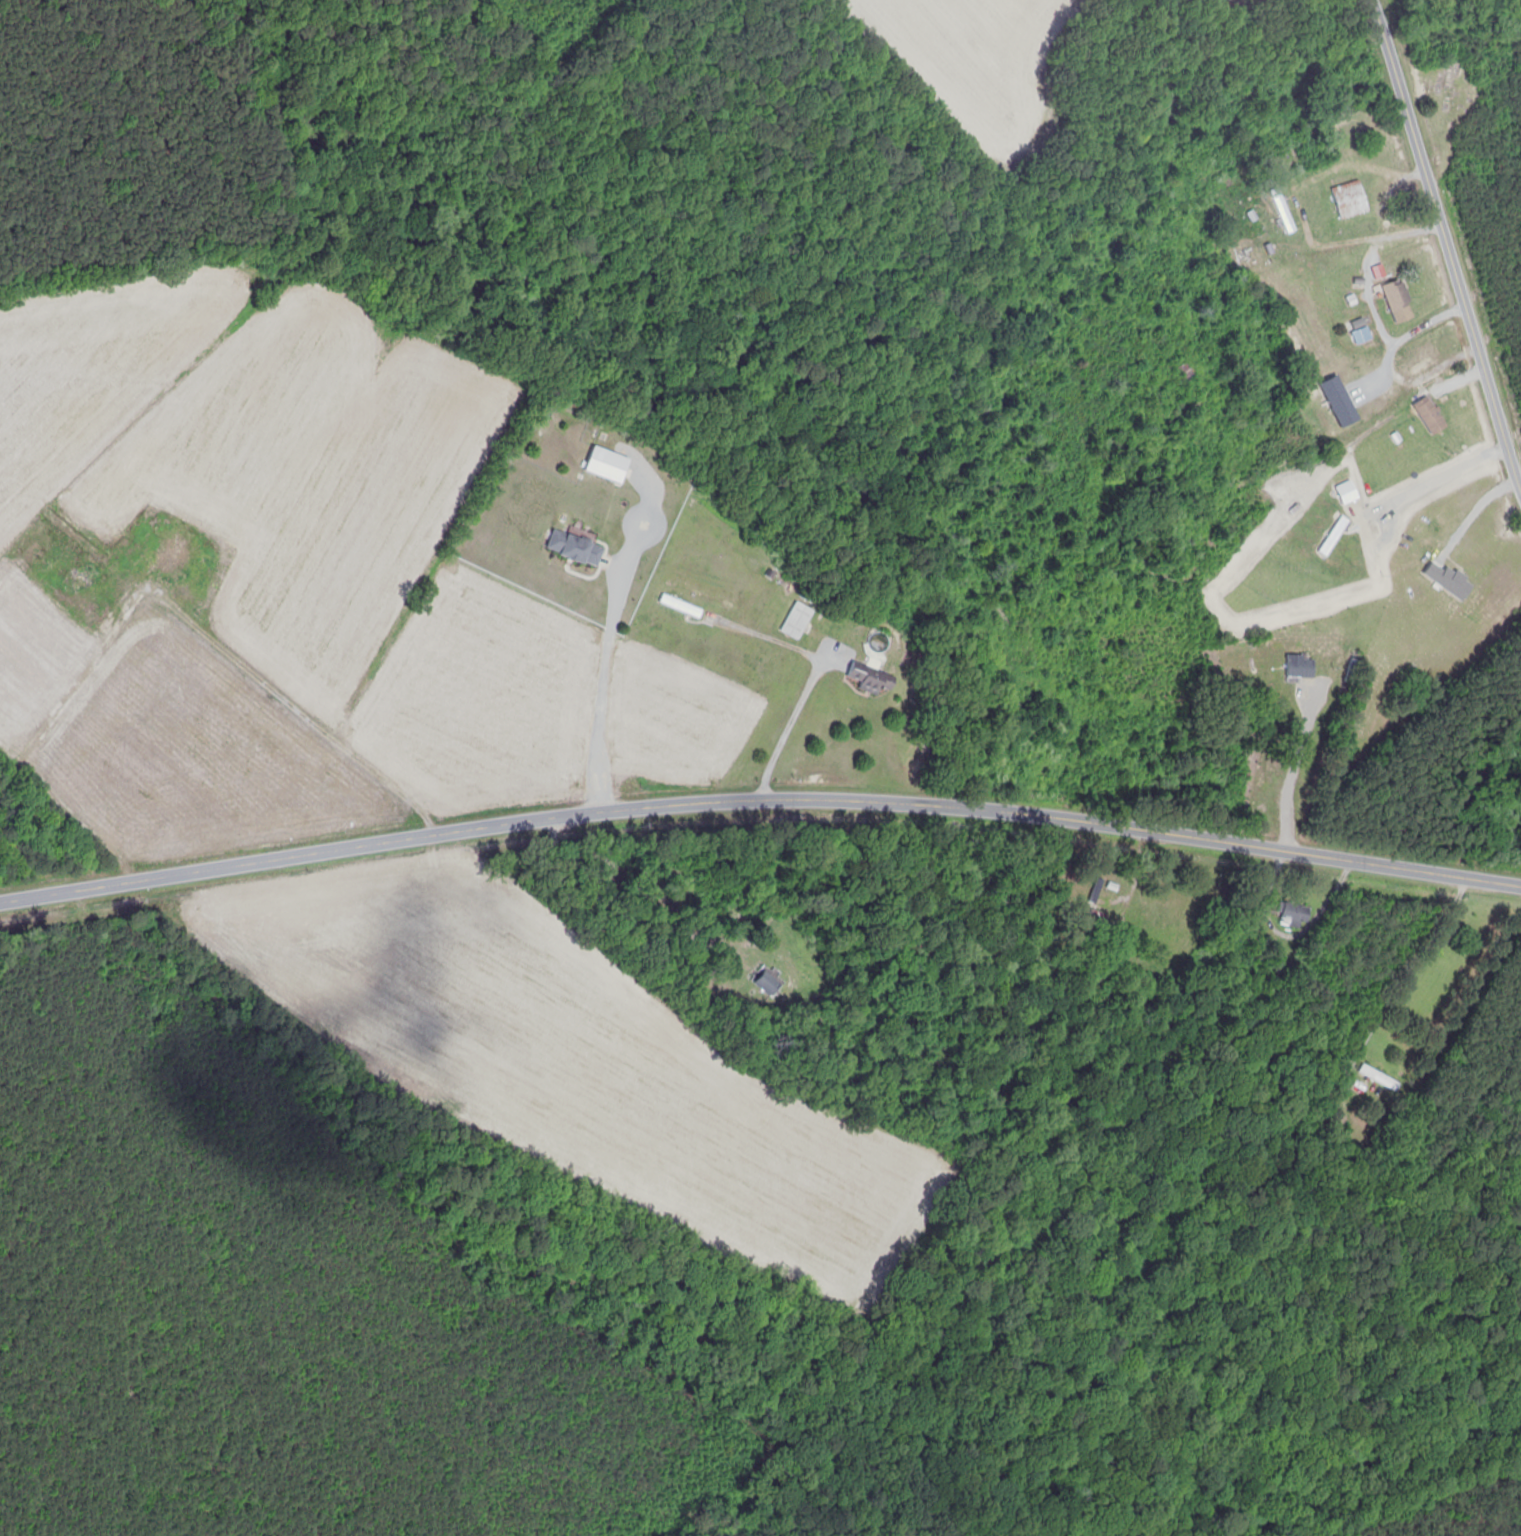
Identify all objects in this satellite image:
building: (1349, 199)
building: (1282, 211)
road: (1446, 248)
building: (1241, 255)
building: (1398, 301)
building: (1358, 330)
building: (1417, 360)
building: (1387, 396)
building: (1430, 415)
building: (607, 464)
building: (1347, 491)
building: (1333, 535)
building: (576, 548)
building: (174, 554)
building: (83, 578)
building: (681, 606)
building: (796, 621)
building: (1300, 668)
building: (866, 679)
road: (802, 697)
road: (600, 704)
road: (759, 799)
building: (1106, 894)
building: (1292, 914)
building: (767, 979)
building: (1378, 1077)

